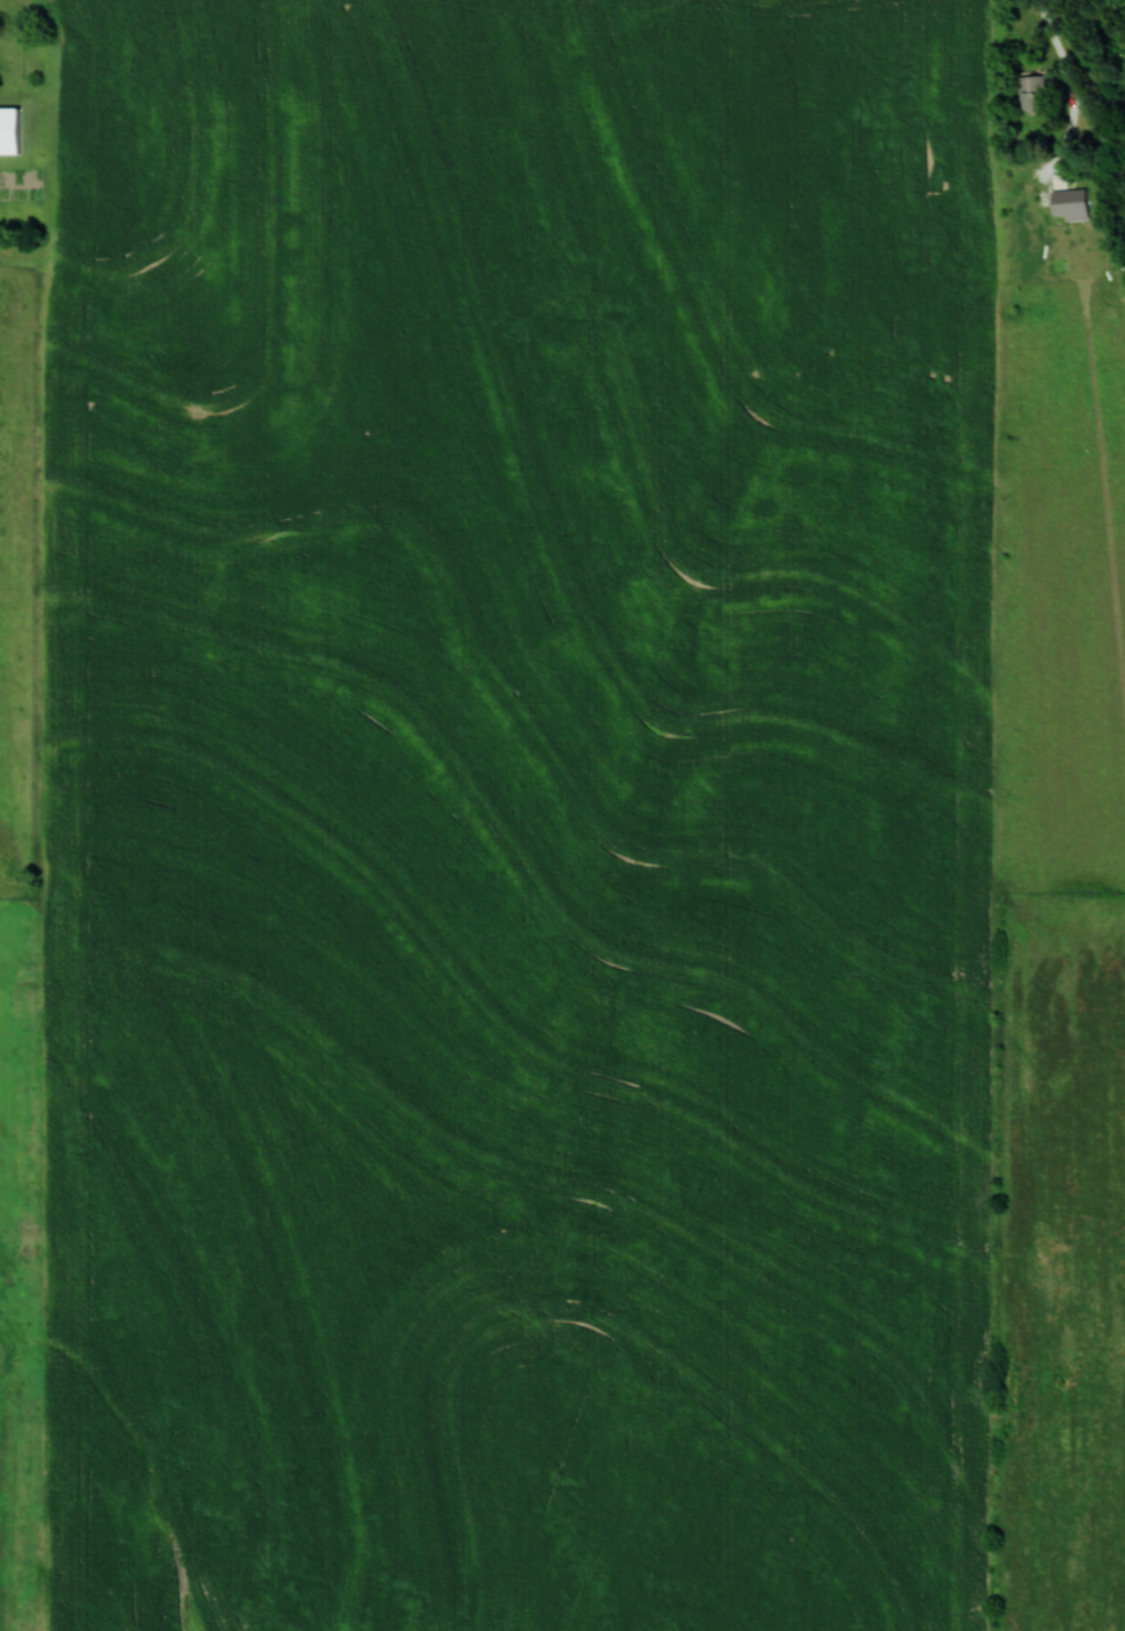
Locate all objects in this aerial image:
park: (1101, 81)
building: (1039, 93)
building: (12, 134)

